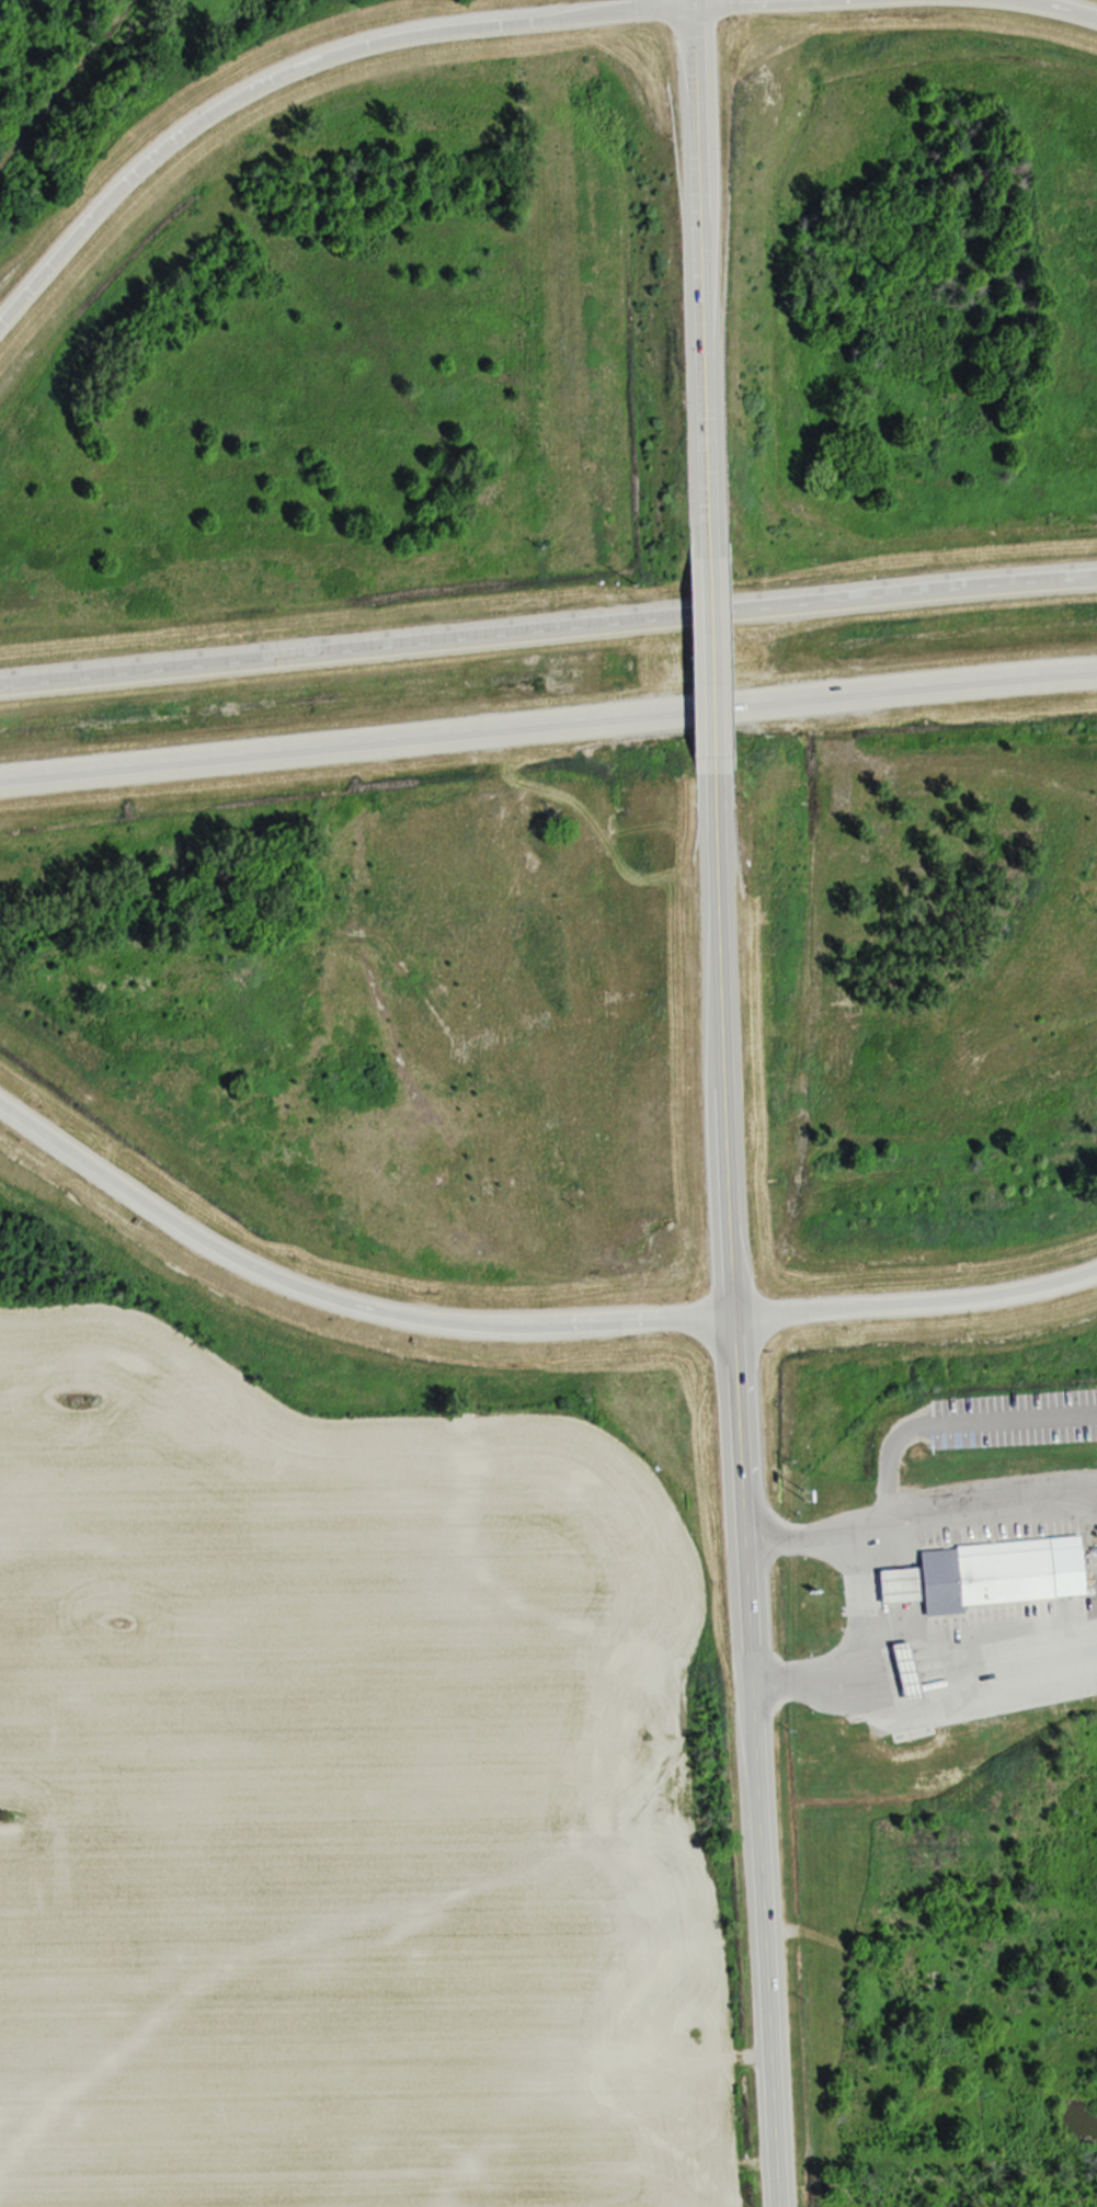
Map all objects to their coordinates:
road: (1062, 7)
road: (292, 70)
river: (68, 89)
road: (700, 282)
road: (548, 627)
road: (711, 660)
road: (548, 721)
road: (915, 1302)
road: (339, 1305)
road: (949, 1427)
road: (740, 1481)
road: (963, 1522)
building: (998, 1572)
building: (896, 1584)
road: (868, 1604)
road: (984, 1629)
building: (903, 1671)

